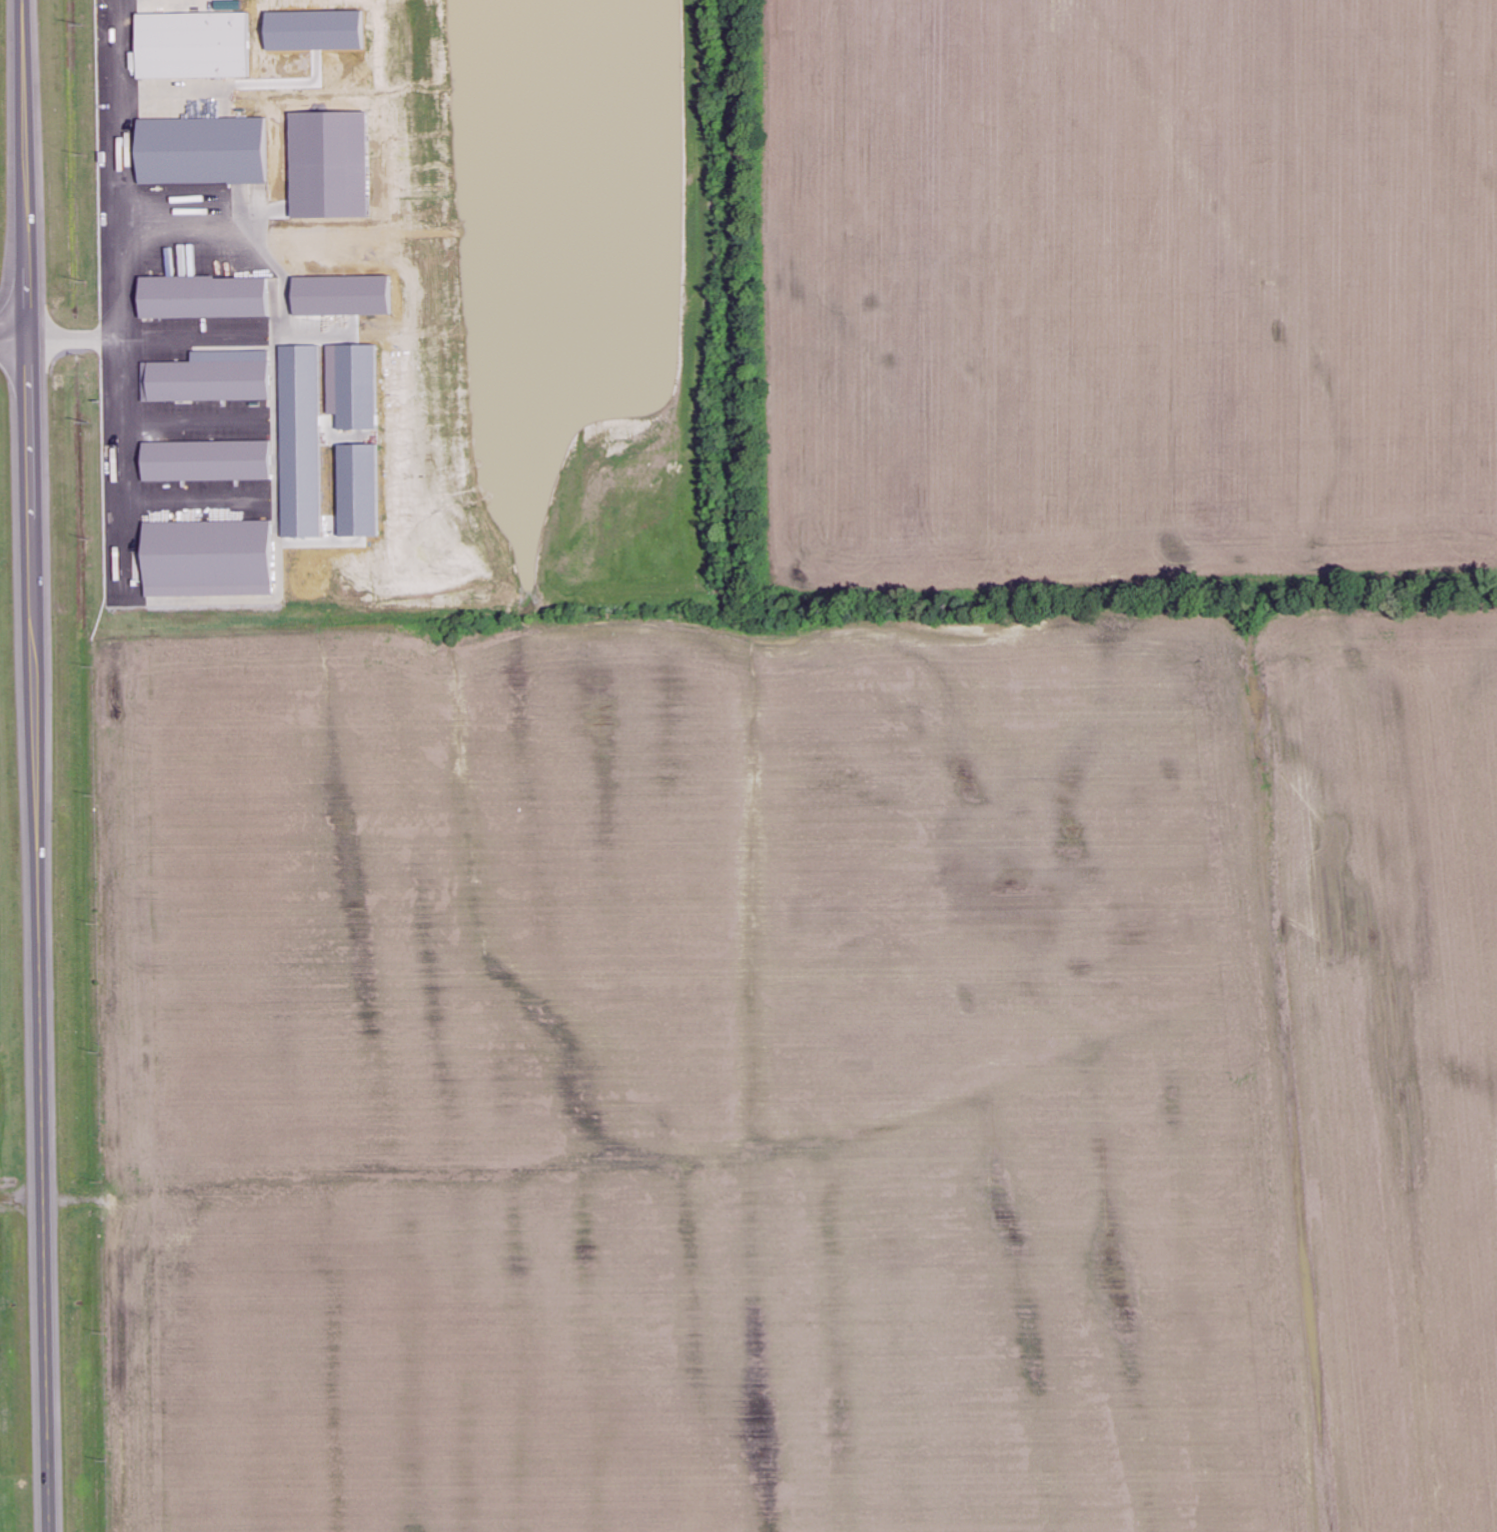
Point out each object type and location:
building: (229, 5)
building: (193, 45)
building: (201, 151)
building: (203, 297)
road: (15, 333)
building: (212, 377)
building: (358, 387)
building: (331, 421)
building: (207, 461)
building: (304, 524)
building: (360, 524)
building: (207, 559)
road: (37, 766)

